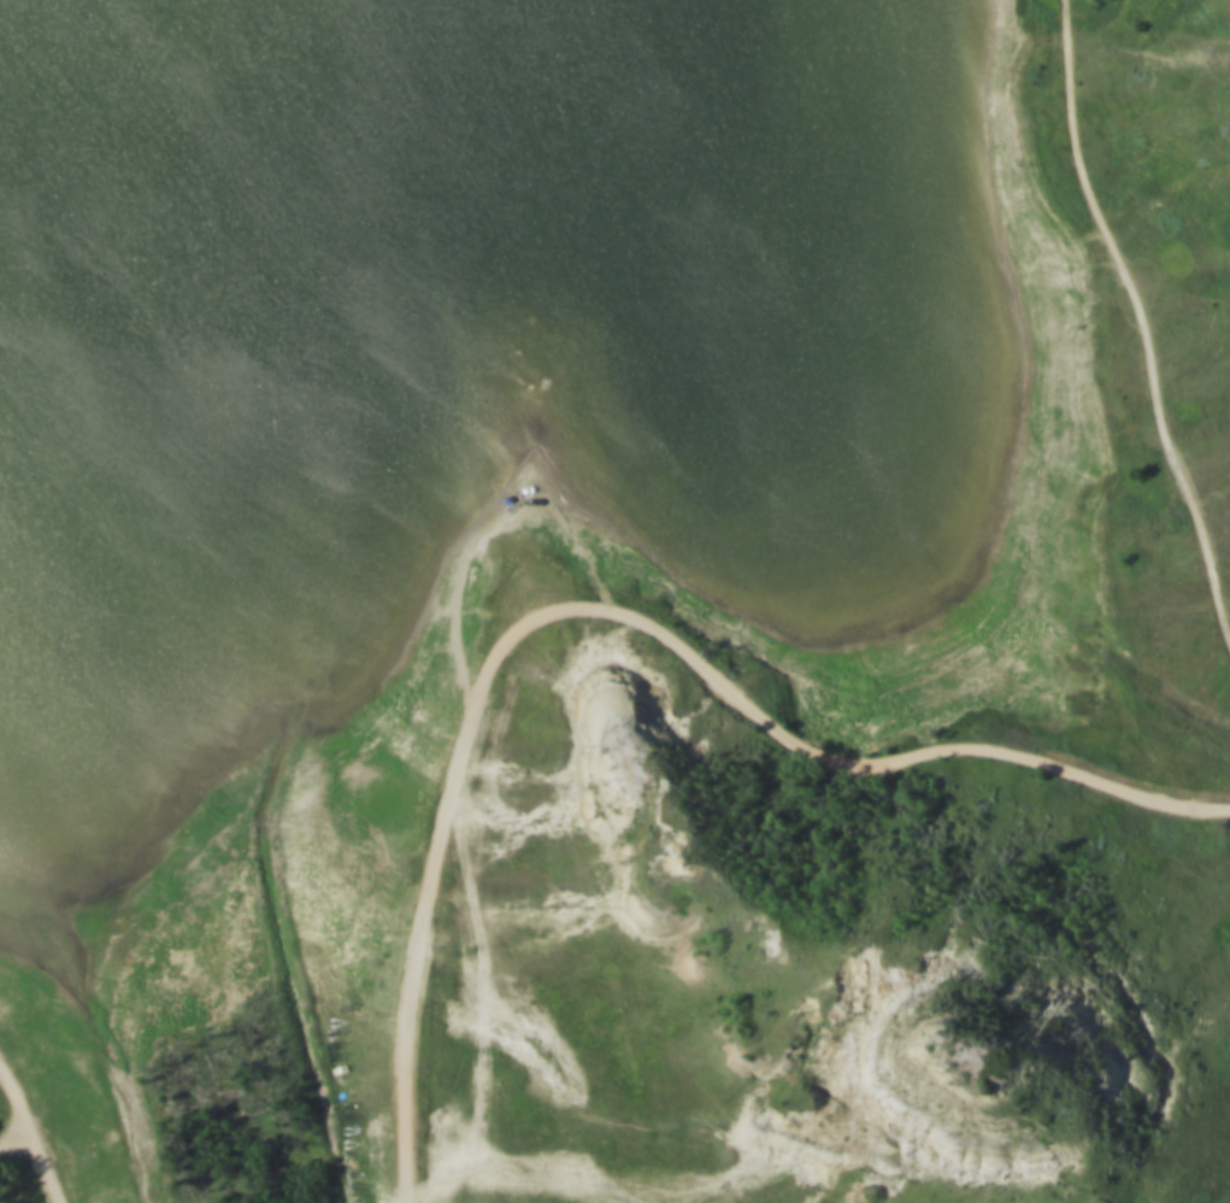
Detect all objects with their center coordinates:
pier: (484, 286)
pier: (583, 312)
pier: (606, 370)
pier: (466, 394)
road: (612, 617)
road: (252, 679)
road: (34, 1131)
road: (18, 1144)

